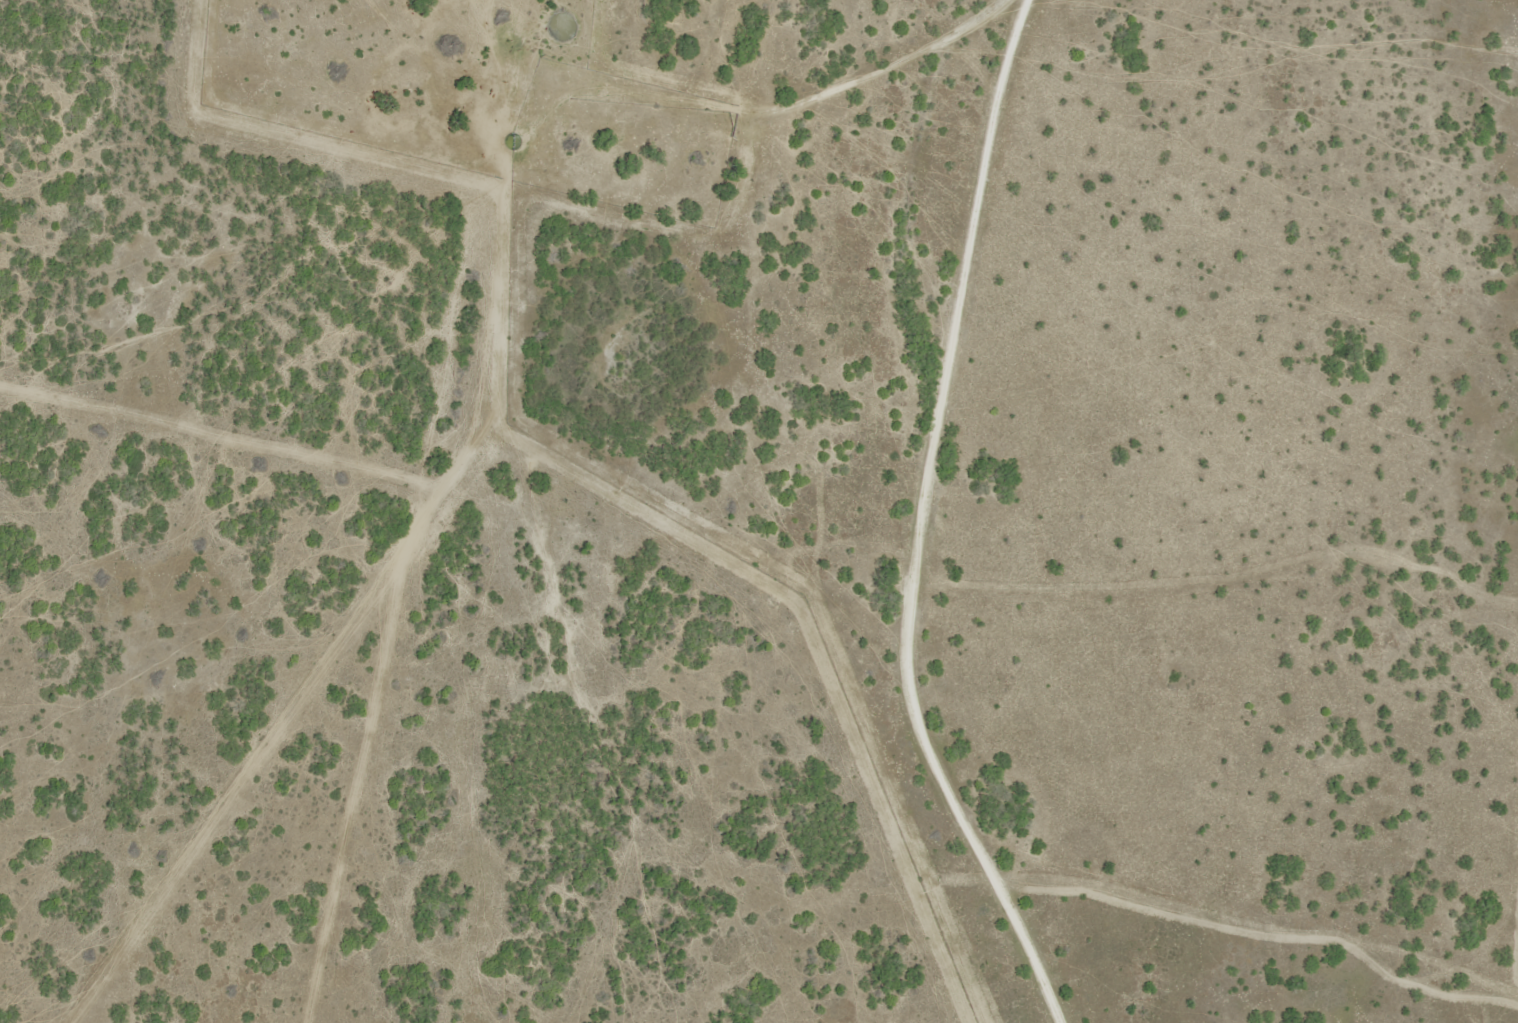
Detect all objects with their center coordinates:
road: (929, 523)

